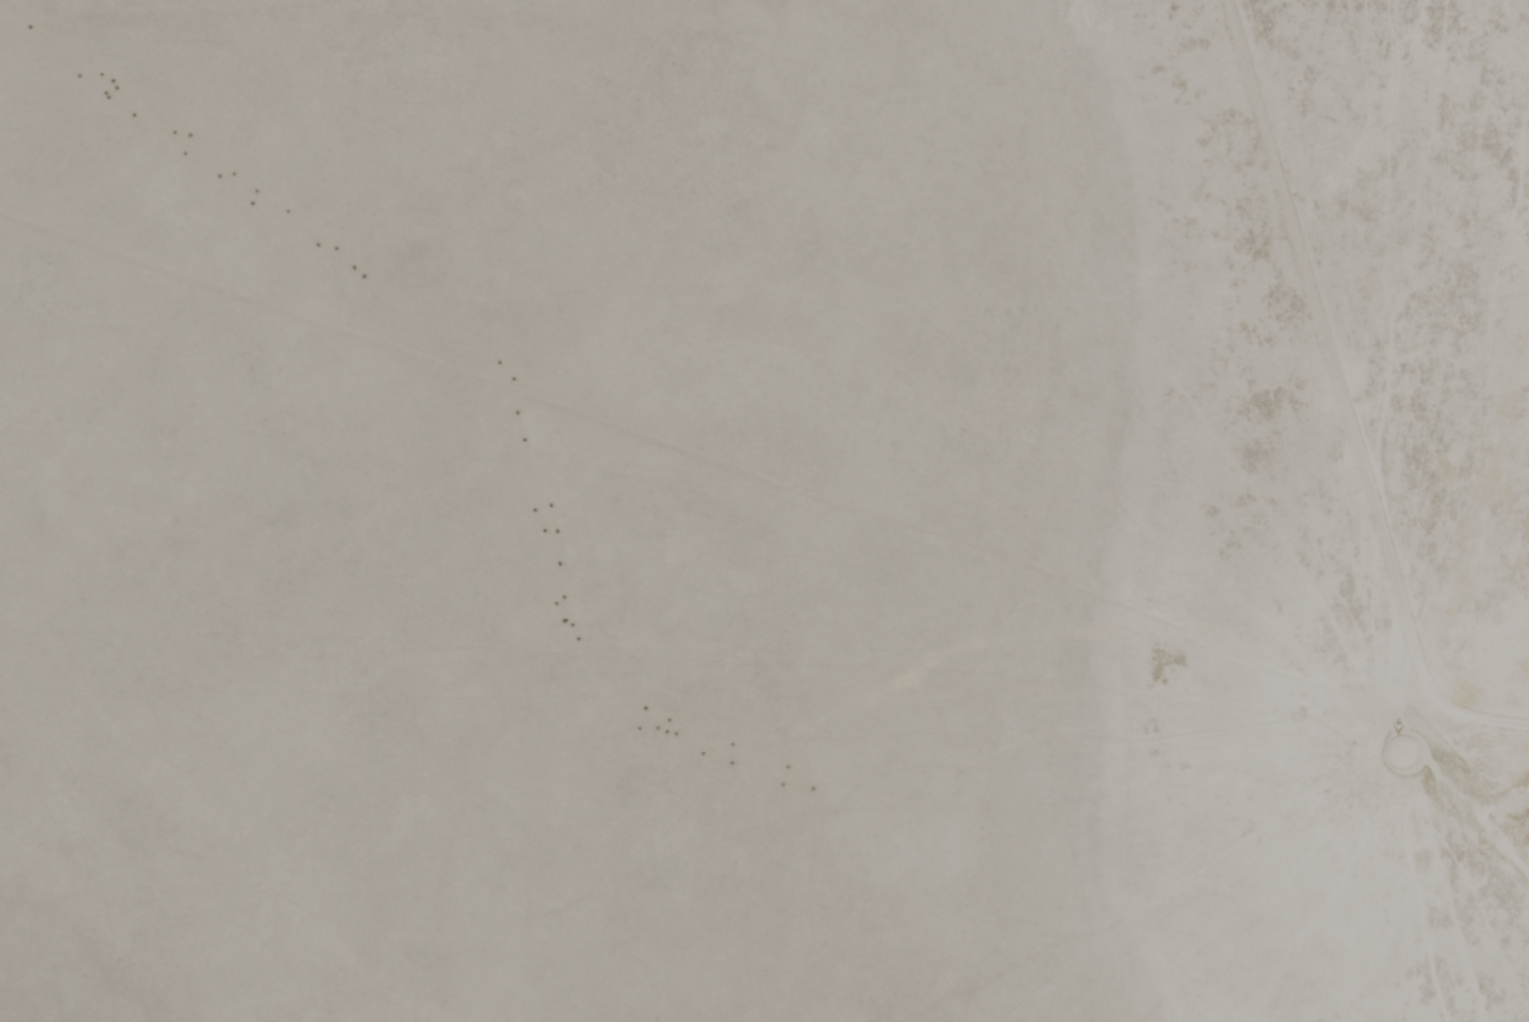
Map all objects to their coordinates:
road: (1339, 398)
building: (1399, 750)
storage tank: (1399, 750)

